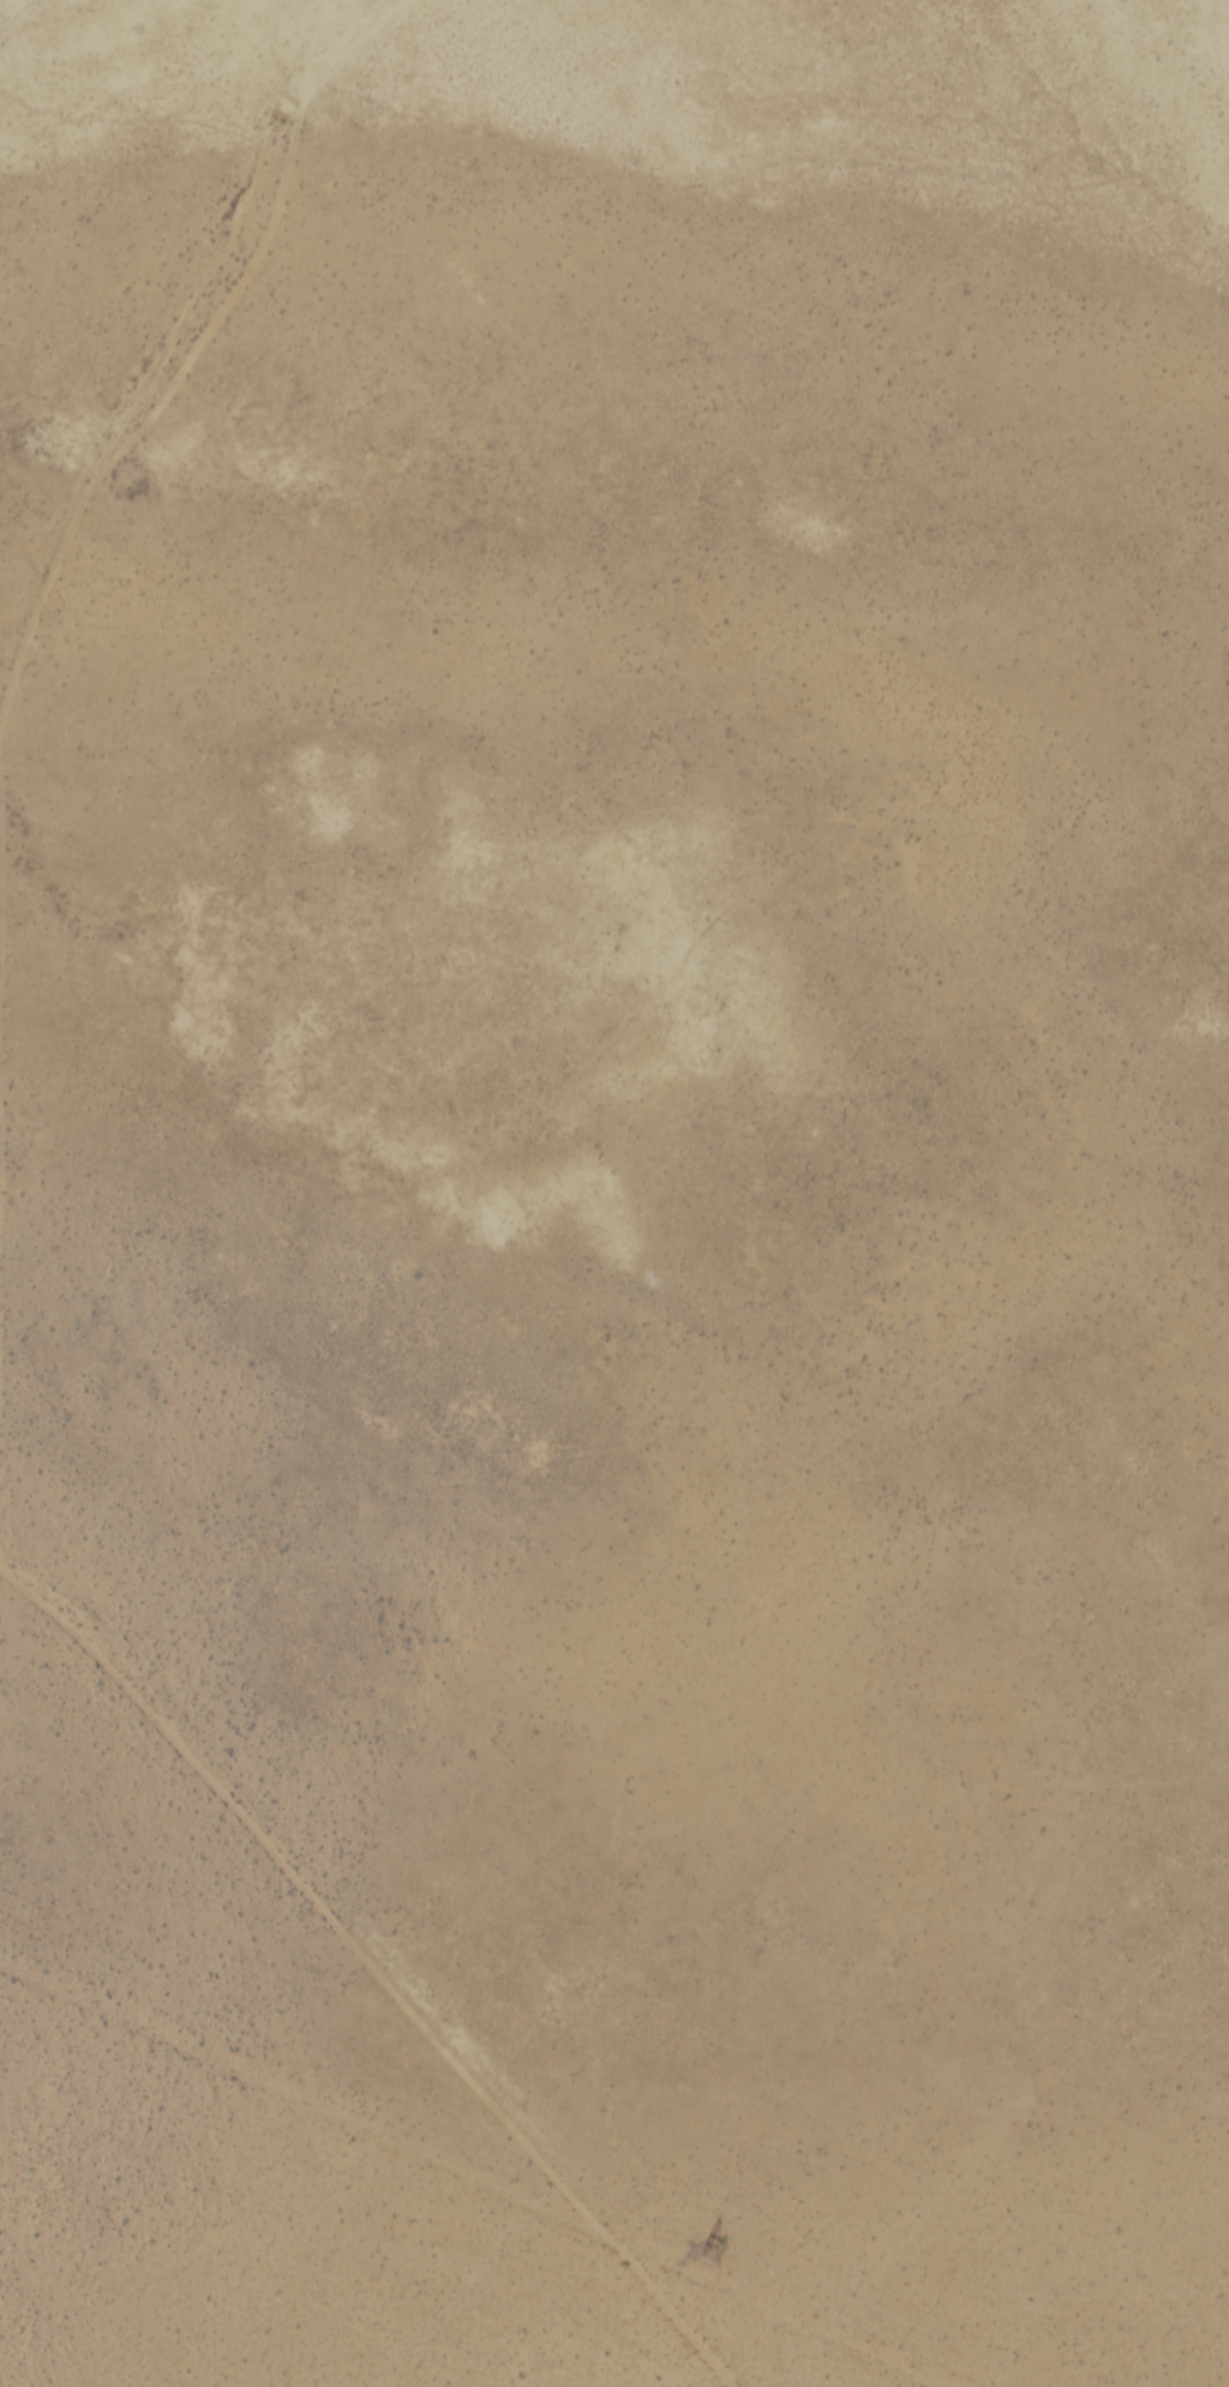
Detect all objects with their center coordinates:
road: (122, 229)
power tower: (730, 2255)

